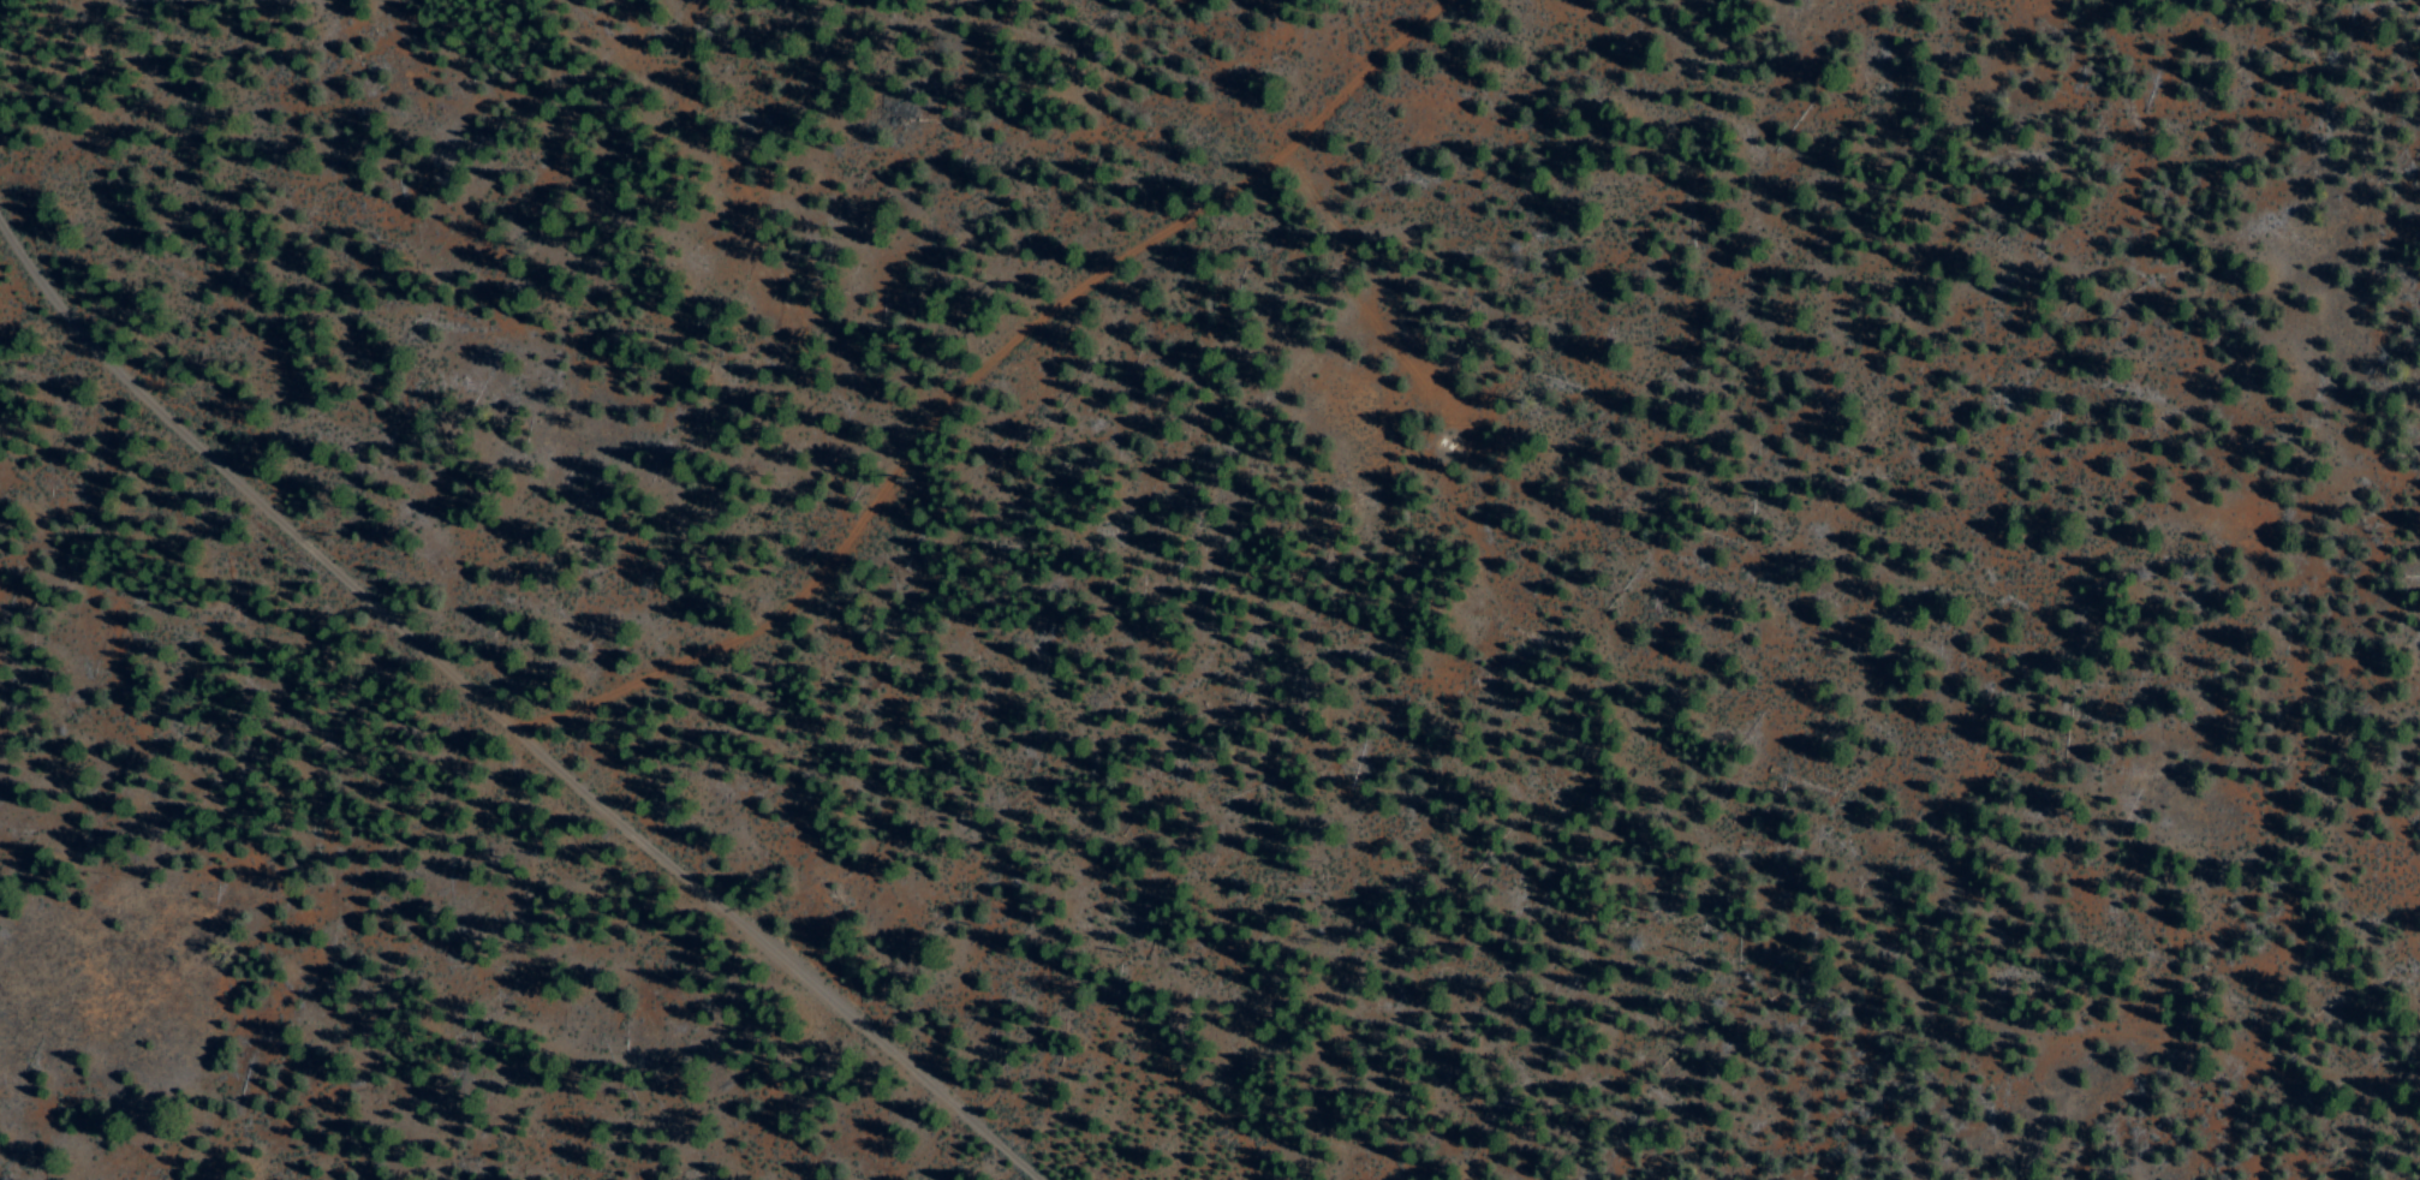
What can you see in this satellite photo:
road: (977, 375)
road: (503, 719)

